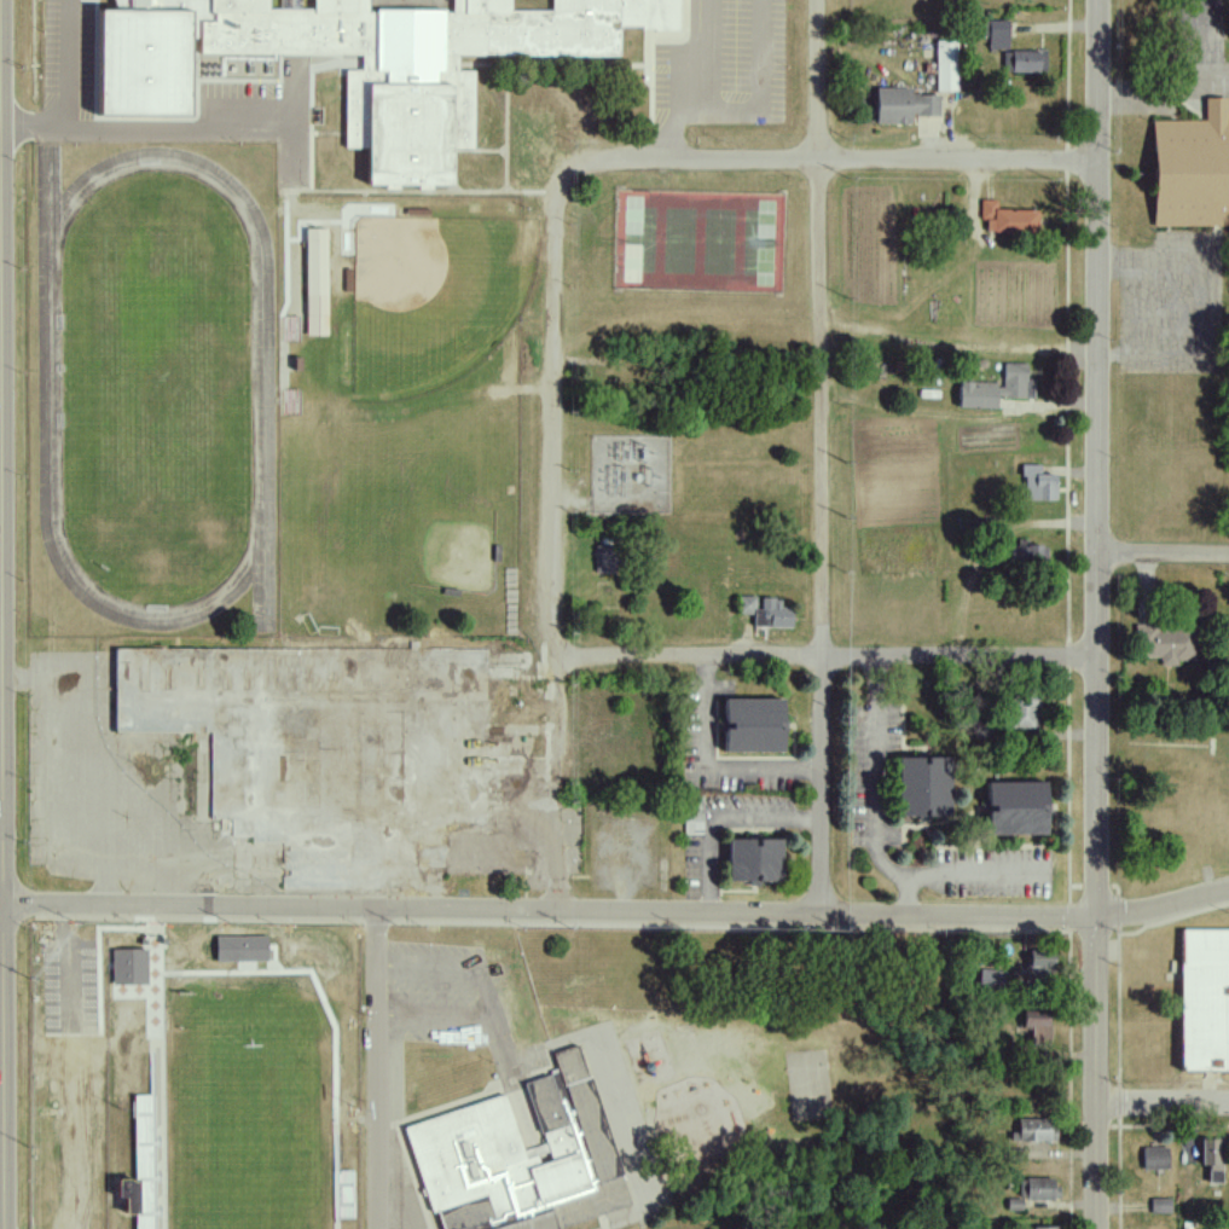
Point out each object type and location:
building: (996, 35)
road: (1196, 45)
building: (1024, 62)
building: (945, 65)
road: (694, 80)
road: (68, 89)
road: (759, 93)
road: (1164, 94)
building: (410, 97)
building: (902, 105)
road: (173, 129)
road: (829, 161)
building: (1190, 169)
road: (516, 198)
building: (1007, 219)
park: (702, 242)
building: (314, 282)
park: (428, 297)
road: (1141, 309)
park: (157, 371)
building: (996, 389)
track: (158, 390)
road: (958, 416)
road: (556, 417)
road: (822, 457)
building: (1037, 485)
park: (423, 509)
road: (1164, 553)
building: (1027, 557)
building: (602, 558)
building: (764, 611)
road: (1071, 614)
road: (1098, 614)
building: (1164, 644)
road: (828, 655)
road: (1, 678)
building: (1021, 711)
building: (750, 725)
building: (324, 748)
road: (711, 767)
road: (557, 783)
building: (921, 785)
road: (1, 798)
building: (1014, 807)
building: (691, 816)
road: (721, 818)
road: (877, 845)
building: (750, 859)
road: (908, 894)
road: (1163, 906)
road: (550, 910)
building: (239, 947)
building: (1038, 958)
building: (128, 967)
building: (990, 978)
road: (488, 998)
building: (1204, 999)
building: (1036, 1024)
road: (502, 1043)
road: (377, 1069)
road: (1164, 1106)
building: (1033, 1130)
park: (247, 1135)
building: (517, 1158)
building: (1154, 1158)
building: (1211, 1159)
building: (1038, 1188)
building: (122, 1194)
building: (1160, 1205)
road: (607, 1225)
building: (1043, 1228)

